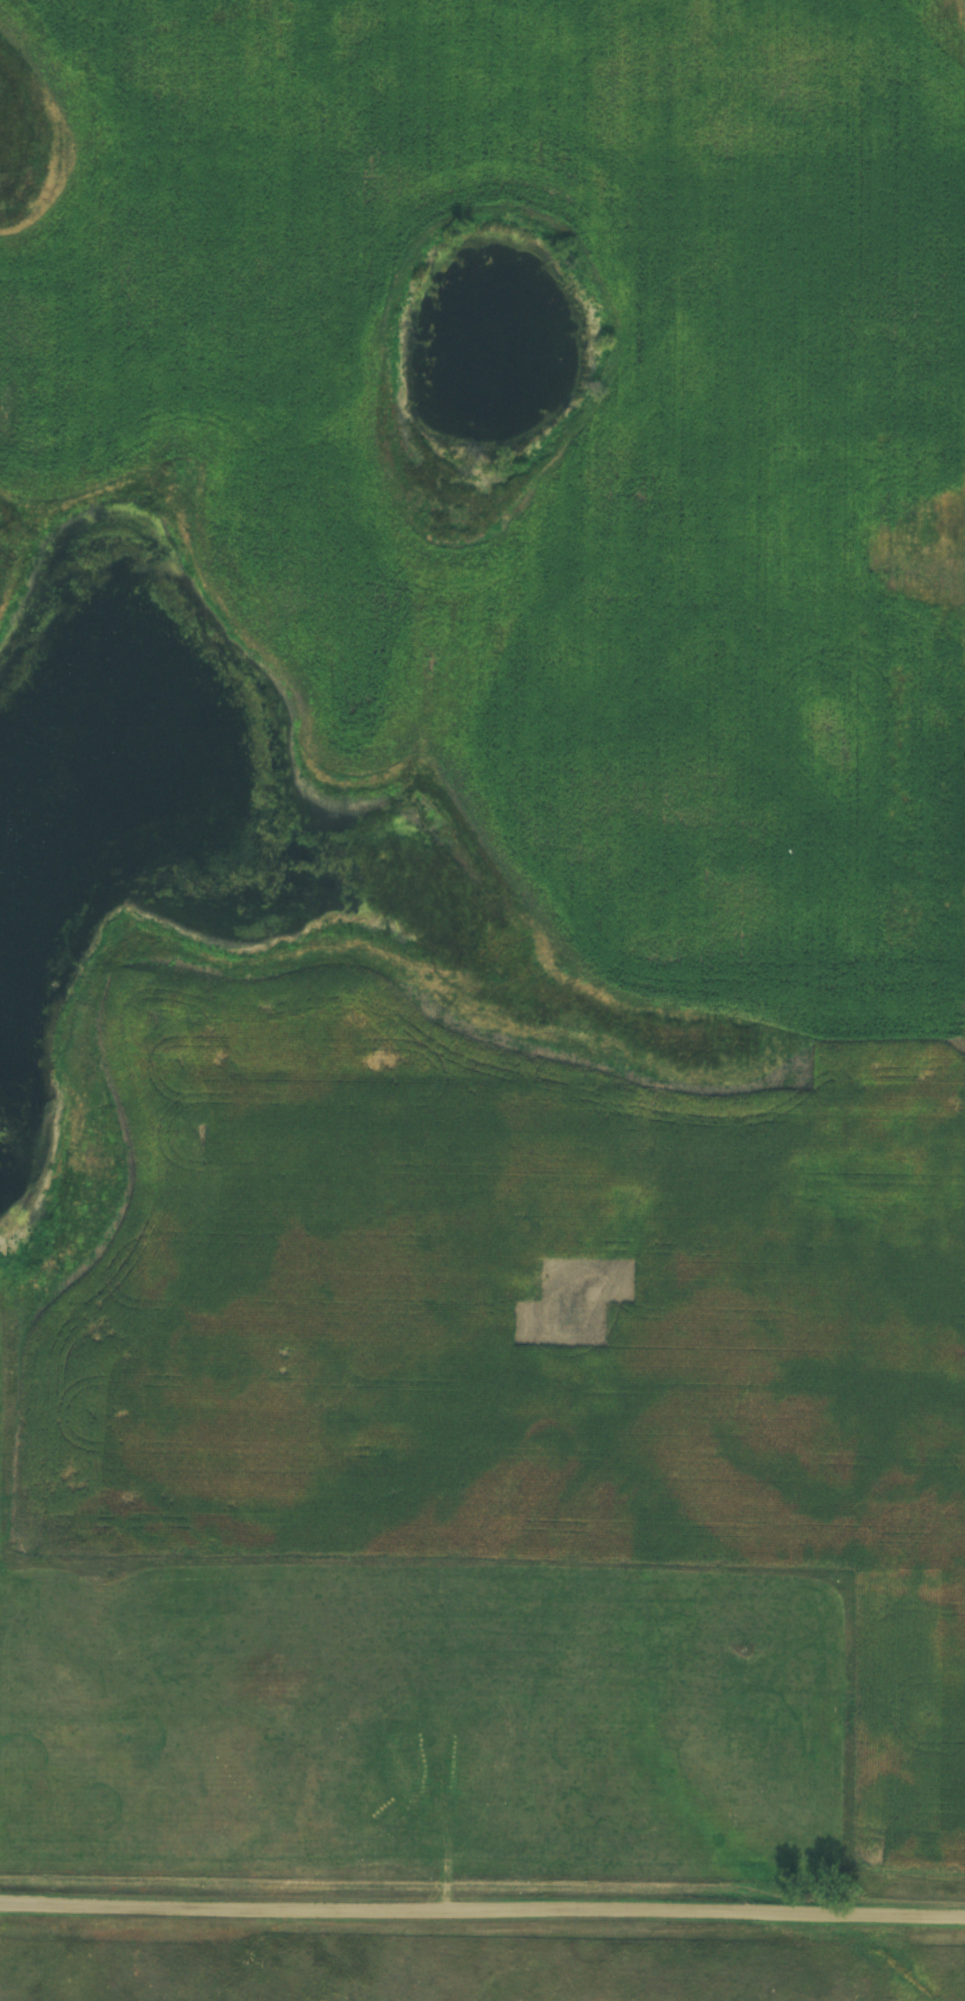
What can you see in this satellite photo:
road: (482, 1906)

